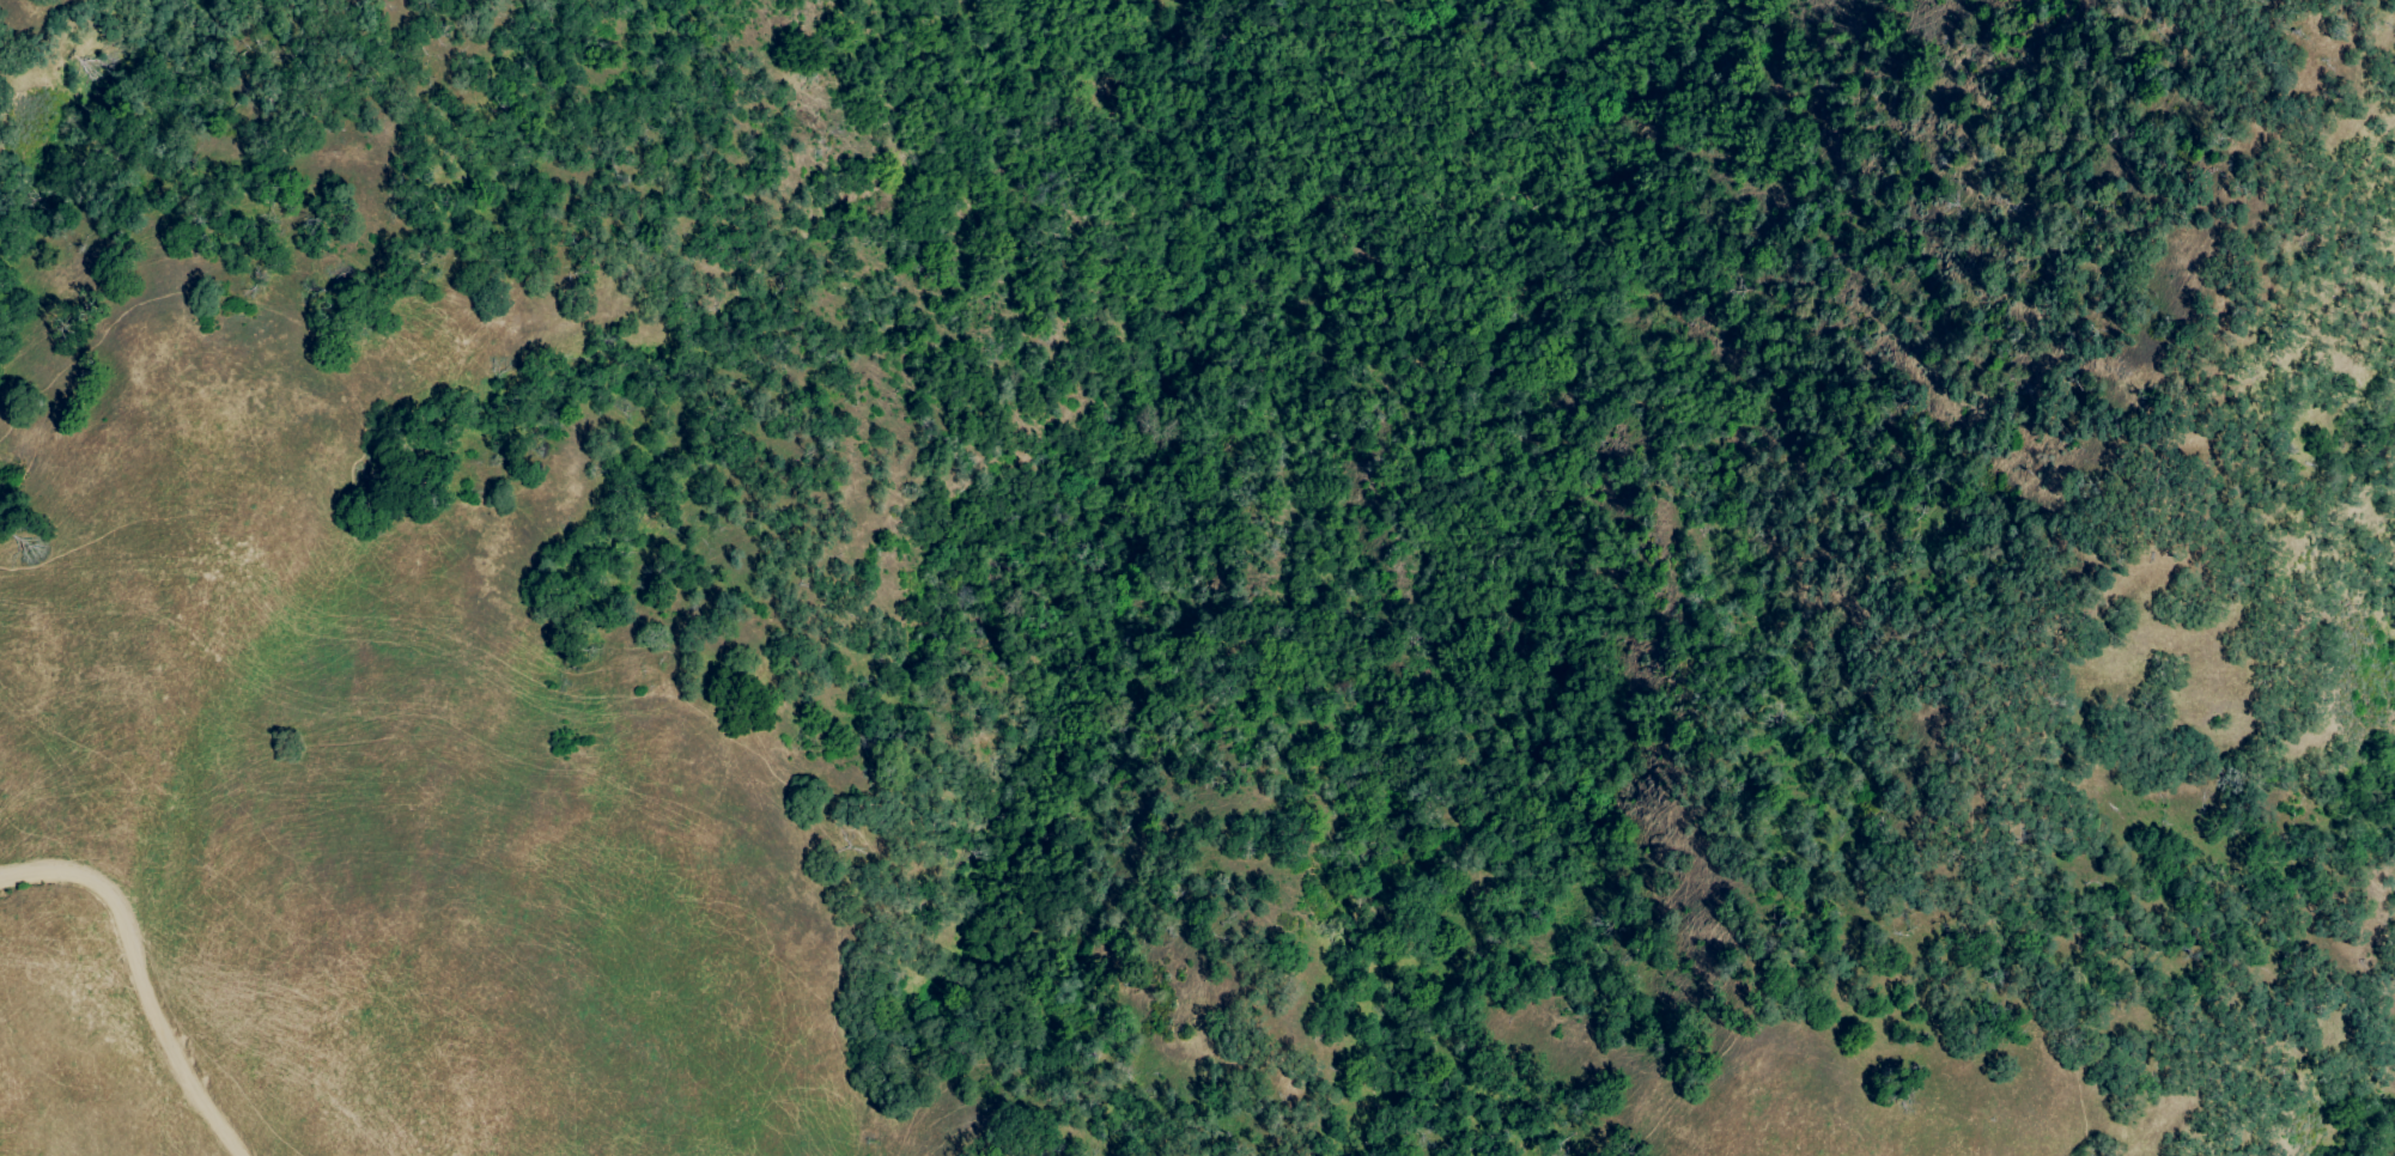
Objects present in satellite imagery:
road: (148, 976)

